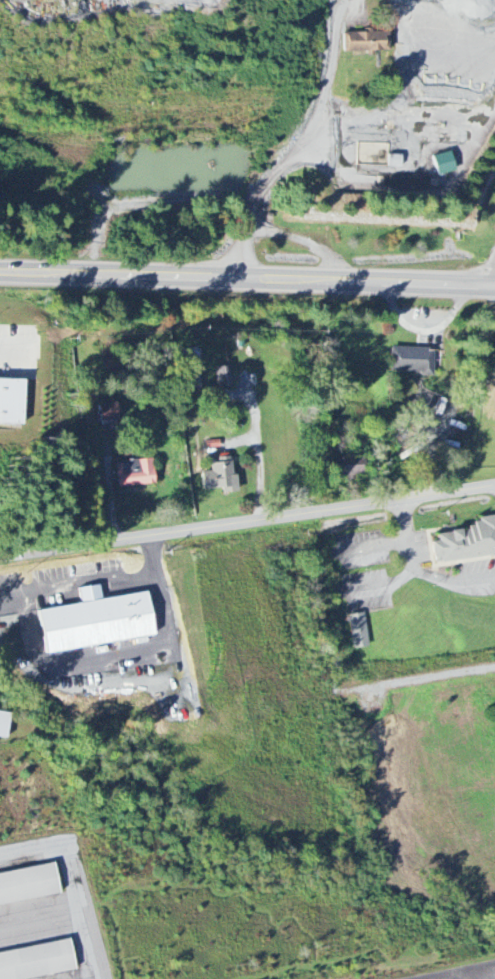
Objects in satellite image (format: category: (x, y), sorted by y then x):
building: (366, 41)
quarry: (349, 119)
building: (395, 160)
building: (444, 163)
road: (247, 280)
road: (14, 350)
building: (412, 360)
building: (219, 369)
building: (11, 401)
building: (108, 411)
building: (136, 472)
road: (247, 522)
road: (406, 535)
building: (466, 543)
road: (155, 554)
road: (456, 578)
road: (78, 584)
building: (97, 621)
building: (358, 631)
road: (118, 665)
building: (4, 724)
airport: (46, 878)
airport hangar: (30, 881)
building: (30, 881)
airport apron: (49, 913)
airport hangar: (37, 959)
building: (37, 959)
airport: (447, 969)
airport runway: (488, 977)

